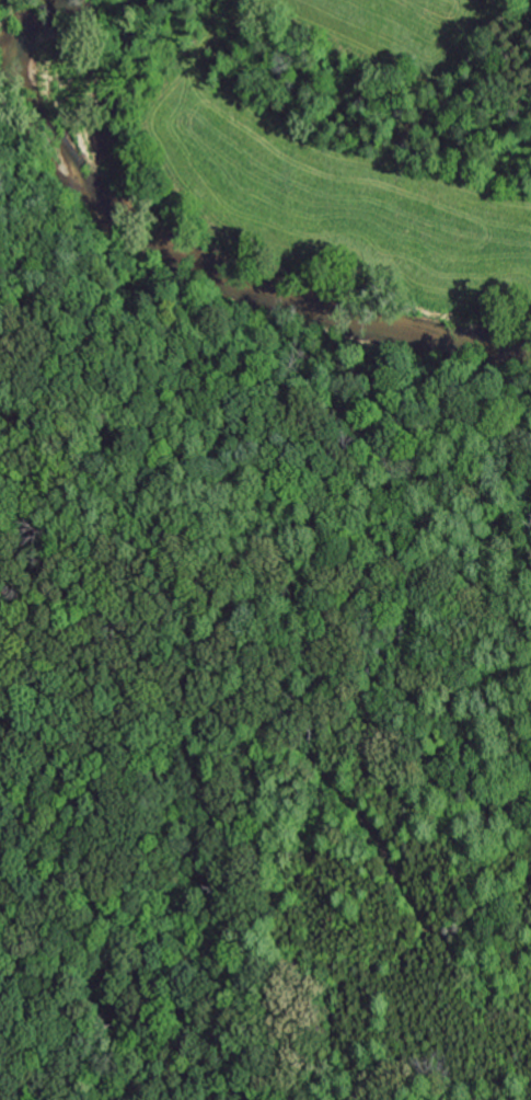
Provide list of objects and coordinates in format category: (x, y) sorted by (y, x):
road: (506, 25)
road: (282, 799)

